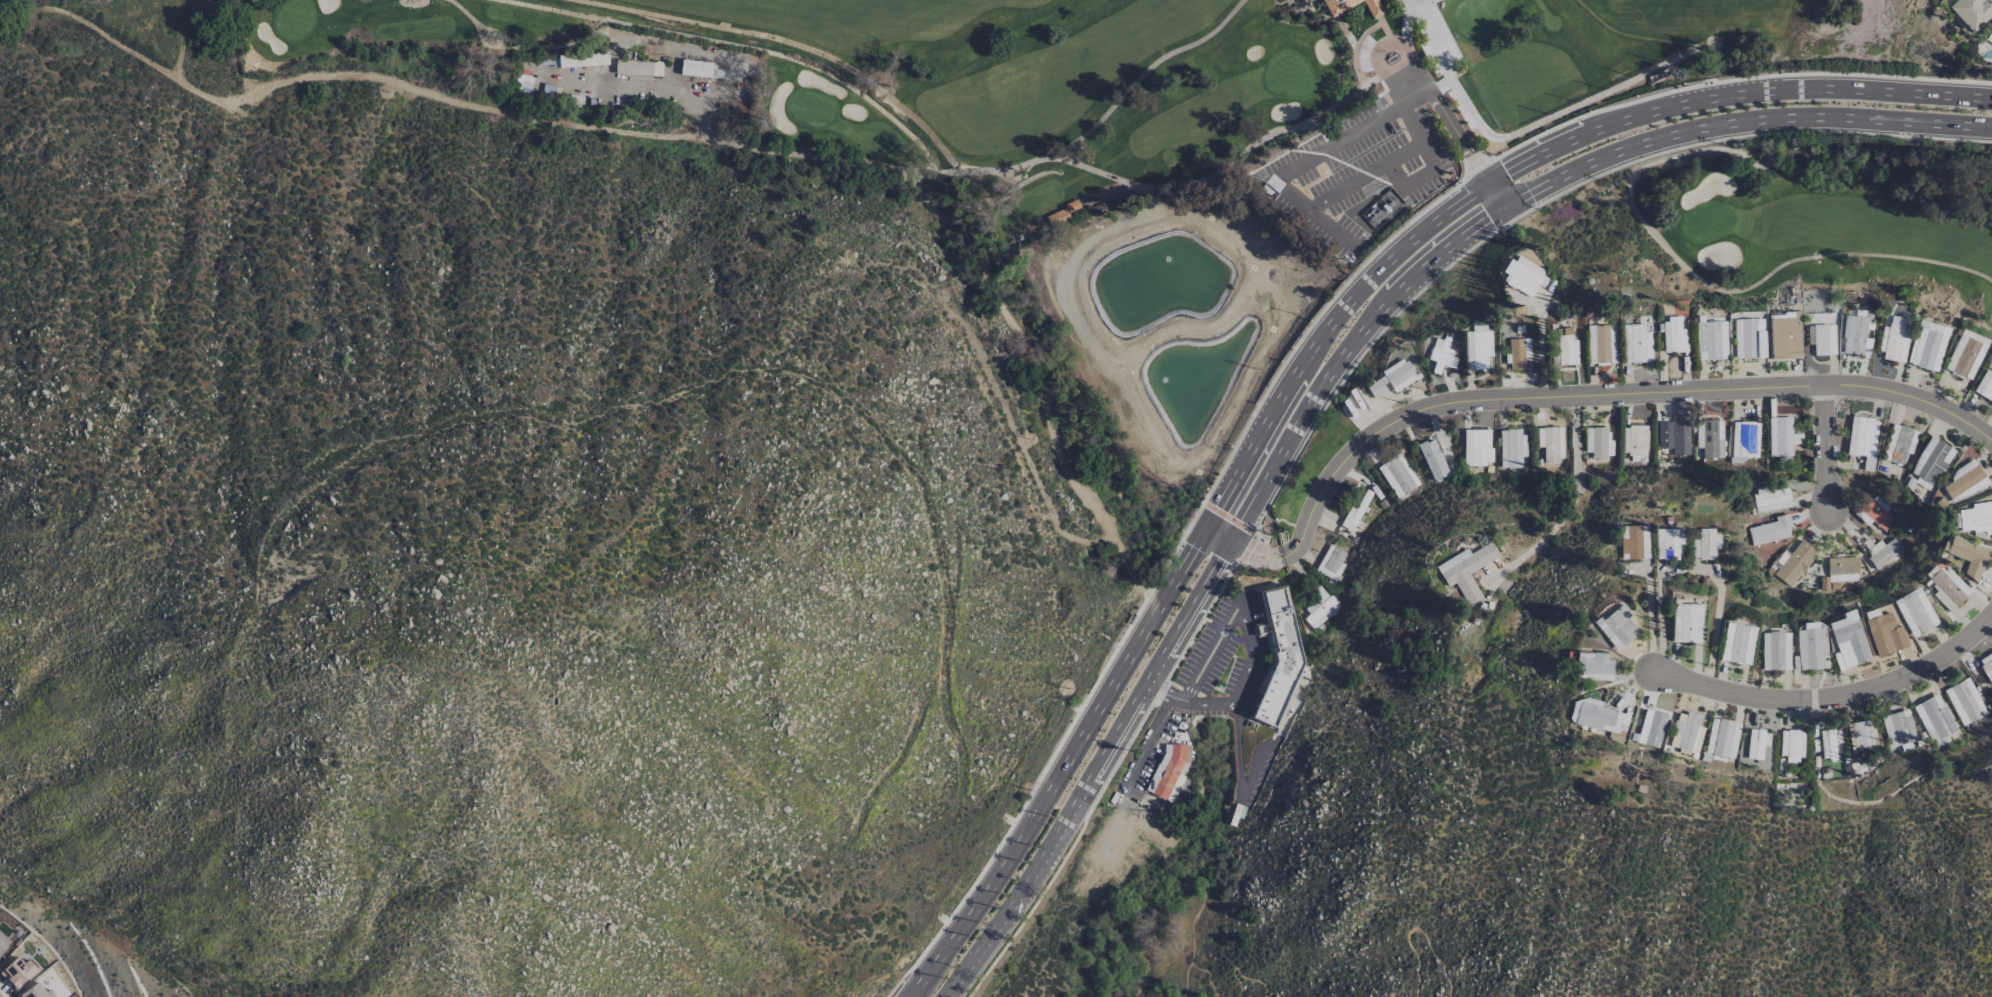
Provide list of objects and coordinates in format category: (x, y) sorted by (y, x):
road: (1415, 1)
building: (1351, 6)
building: (1971, 12)
building: (1989, 37)
road: (1385, 38)
road: (1356, 48)
building: (582, 59)
road: (1394, 59)
building: (695, 68)
road: (1730, 79)
park: (1303, 113)
road: (1461, 137)
road: (1473, 164)
road: (1517, 165)
road: (1430, 177)
traffic signals: (1489, 180)
road: (1531, 189)
road: (1289, 194)
road: (1548, 198)
traffic signals: (1507, 202)
building: (1520, 275)
building: (1673, 335)
building: (1785, 335)
building: (1856, 335)
building: (1749, 338)
building: (1894, 339)
building: (1711, 340)
building: (1823, 340)
building: (1601, 344)
building: (1636, 344)
building: (1478, 346)
building: (1927, 346)
building: (1566, 347)
building: (1518, 353)
building: (1966, 354)
building: (1440, 355)
building: (1391, 379)
building: (1984, 385)
road: (1579, 395)
building: (1674, 437)
building: (1779, 437)
building: (1712, 439)
building: (1745, 439)
building: (1634, 440)
building: (1862, 440)
building: (1598, 442)
building: (1551, 443)
building: (1899, 444)
road: (1822, 445)
building: (1477, 447)
building: (1511, 448)
building: (1432, 459)
building: (1932, 460)
building: (1397, 475)
building: (1963, 483)
road: (1574, 493)
building: (1354, 512)
building: (1874, 512)
road: (1228, 517)
building: (1976, 519)
traffic signals: (1203, 527)
building: (1771, 530)
road: (1215, 534)
traffic signals: (1228, 542)
building: (1633, 542)
building: (1668, 543)
building: (1704, 544)
road: (1247, 547)
building: (1883, 553)
building: (1967, 556)
road: (1169, 557)
building: (1331, 563)
building: (1795, 563)
road: (1695, 569)
building: (1842, 569)
building: (1465, 571)
building: (1946, 587)
building: (1319, 607)
building: (1915, 612)
road: (1202, 618)
building: (1686, 622)
building: (1616, 627)
building: (1883, 633)
building: (1849, 638)
building: (1737, 643)
building: (1809, 649)
building: (1775, 650)
building: (1278, 657)
road: (1207, 659)
road: (1252, 660)
building: (1593, 666)
building: (1986, 667)
road: (1158, 692)
road: (1156, 694)
road: (1835, 695)
road: (1177, 700)
building: (1964, 701)
road: (1205, 705)
building: (1600, 717)
building: (1934, 720)
building: (1898, 729)
building: (1687, 732)
building: (1863, 735)
building: (1756, 743)
building: (1829, 743)
road: (1146, 744)
building: (1791, 745)
road: (1062, 766)
road: (1090, 772)
building: (1166, 773)
road: (1240, 783)
road: (1063, 855)
road: (1181, 878)
road: (1416, 932)
road: (1244, 975)
road: (898, 985)

